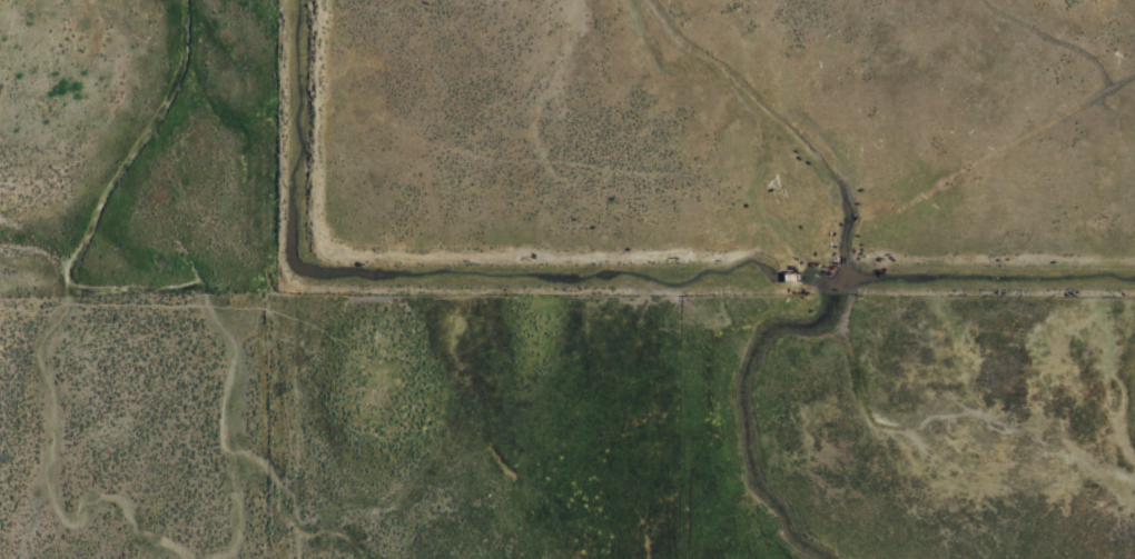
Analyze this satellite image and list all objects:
crop: (567, 279)

